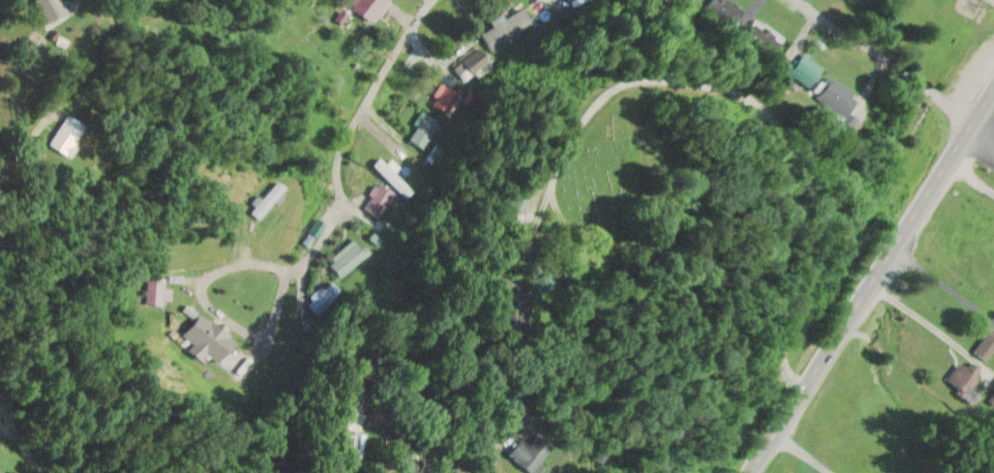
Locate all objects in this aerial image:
building: (573, 1)
building: (373, 8)
building: (54, 10)
building: (723, 10)
building: (765, 37)
road: (891, 61)
building: (808, 69)
building: (839, 97)
building: (444, 98)
road: (69, 120)
road: (354, 124)
building: (423, 129)
building: (73, 134)
building: (401, 165)
building: (271, 198)
building: (379, 199)
building: (318, 226)
building: (346, 255)
road: (871, 283)
building: (325, 297)
building: (212, 340)
building: (986, 345)
building: (966, 376)
building: (525, 402)
road: (32, 429)
building: (539, 453)

